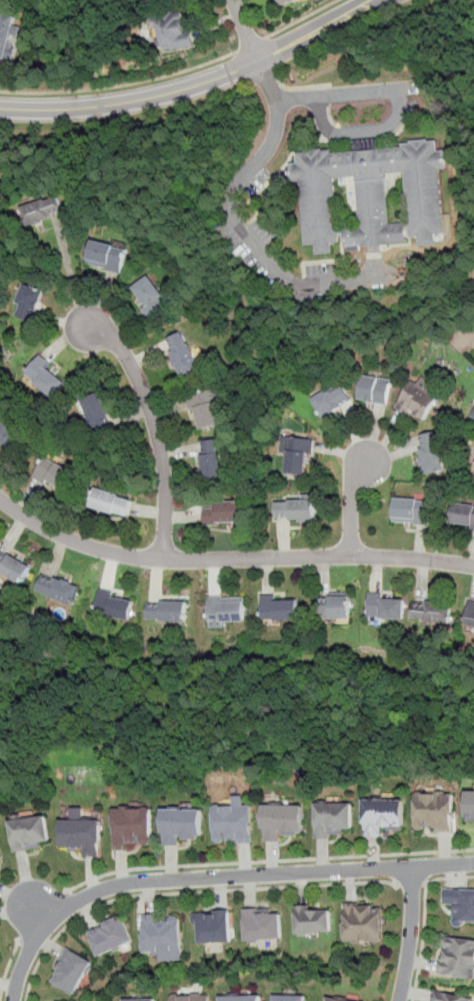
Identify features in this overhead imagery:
building: (282, 2)
road: (302, 18)
road: (245, 30)
building: (174, 31)
road: (315, 31)
building: (6, 32)
road: (251, 44)
road: (120, 84)
road: (340, 95)
road: (131, 102)
road: (279, 111)
road: (360, 130)
building: (371, 192)
building: (43, 210)
building: (107, 256)
road: (274, 265)
road: (70, 277)
building: (152, 296)
building: (27, 302)
building: (183, 352)
building: (46, 377)
building: (375, 390)
building: (332, 399)
building: (419, 400)
building: (203, 408)
building: (95, 409)
road: (156, 428)
building: (8, 433)
building: (431, 451)
building: (298, 455)
building: (212, 458)
building: (55, 472)
building: (110, 503)
road: (351, 504)
building: (295, 510)
building: (411, 510)
building: (224, 513)
building: (461, 513)
road: (230, 559)
building: (14, 567)
building: (58, 590)
building: (114, 605)
building: (336, 605)
building: (386, 605)
building: (278, 607)
building: (224, 609)
building: (167, 610)
building: (431, 610)
building: (470, 616)
building: (470, 803)
building: (434, 811)
building: (78, 812)
building: (382, 813)
building: (334, 818)
building: (281, 819)
building: (233, 822)
building: (181, 823)
building: (132, 825)
building: (30, 831)
building: (83, 835)
building: (1, 854)
road: (266, 860)
road: (212, 877)
road: (411, 884)
road: (185, 892)
building: (461, 903)
road: (424, 918)
road: (41, 919)
building: (313, 919)
building: (363, 922)
building: (263, 923)
building: (213, 925)
building: (161, 932)
road: (410, 934)
building: (110, 935)
building: (457, 957)
road: (7, 967)
building: (71, 970)
building: (190, 996)
building: (449, 996)
building: (240, 997)
building: (290, 997)
building: (138, 999)
building: (340, 999)

